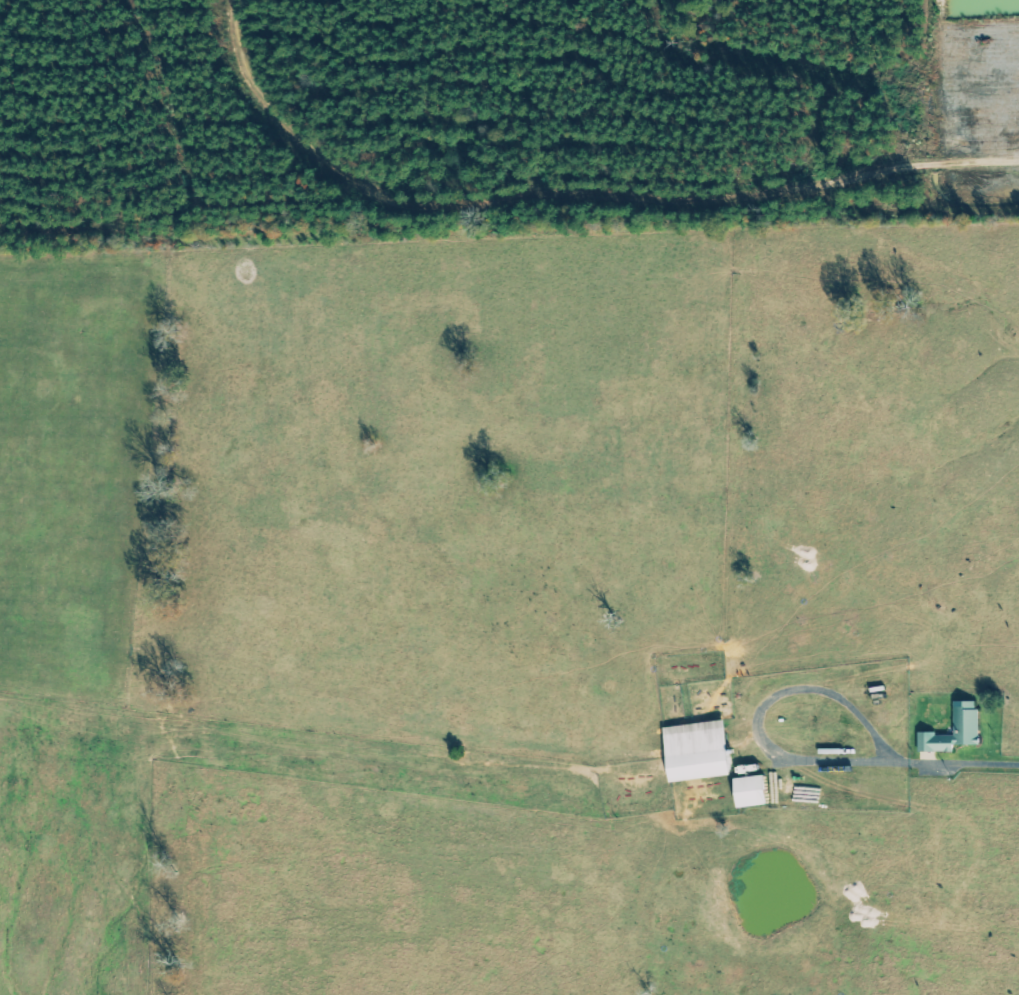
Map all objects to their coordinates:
road: (765, 708)
building: (957, 730)
building: (700, 751)
road: (961, 761)
building: (754, 791)

